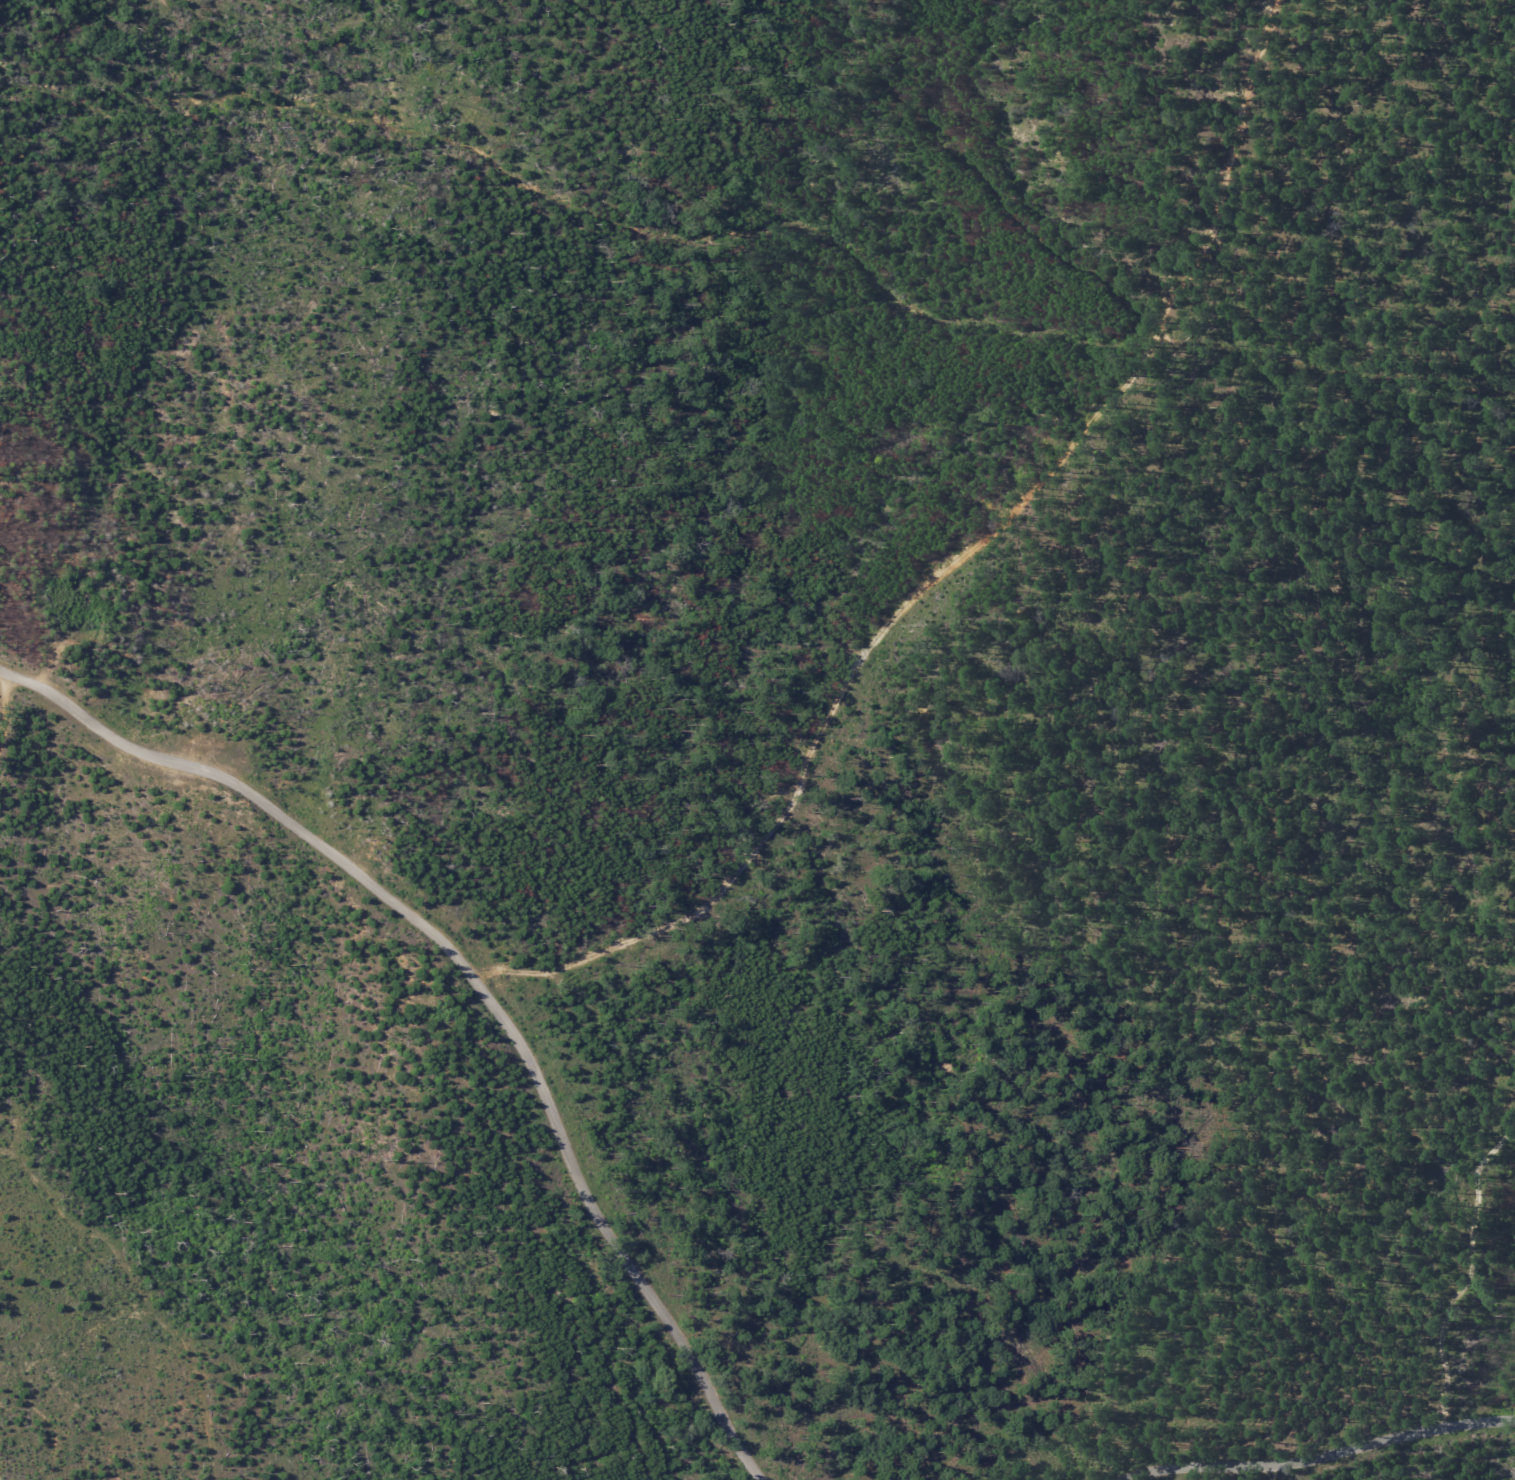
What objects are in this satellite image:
road: (1, 686)
park: (757, 740)
road: (475, 981)
road: (1318, 1456)

